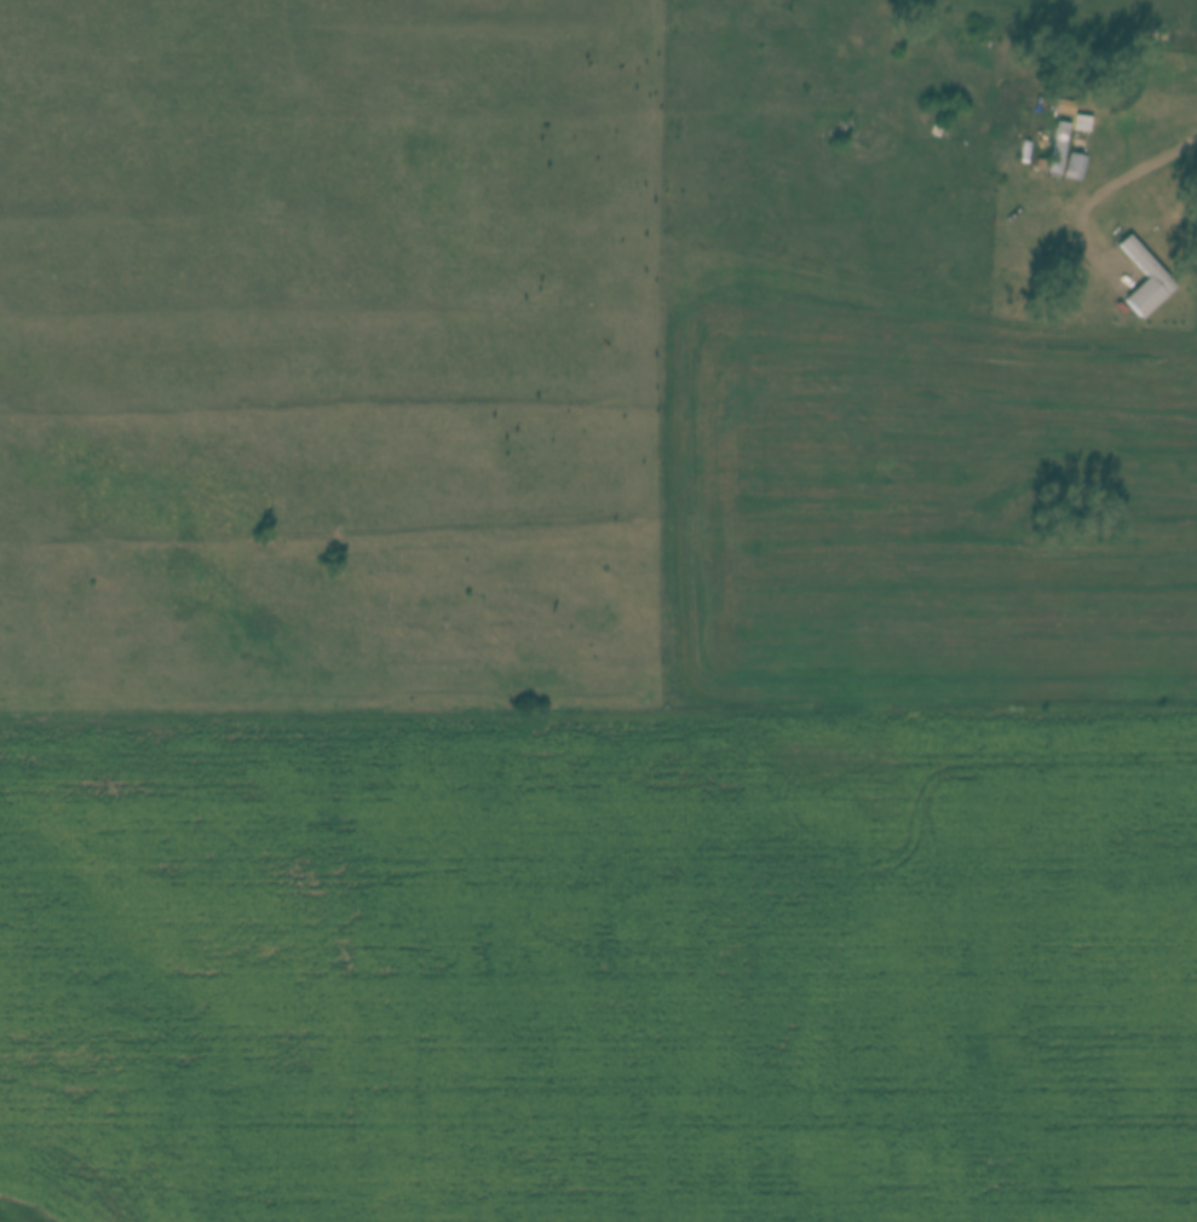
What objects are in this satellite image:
building: (1064, 106)
building: (1081, 122)
building: (1058, 146)
road: (1159, 163)
building: (1040, 165)
building: (1072, 165)
building: (1141, 260)

